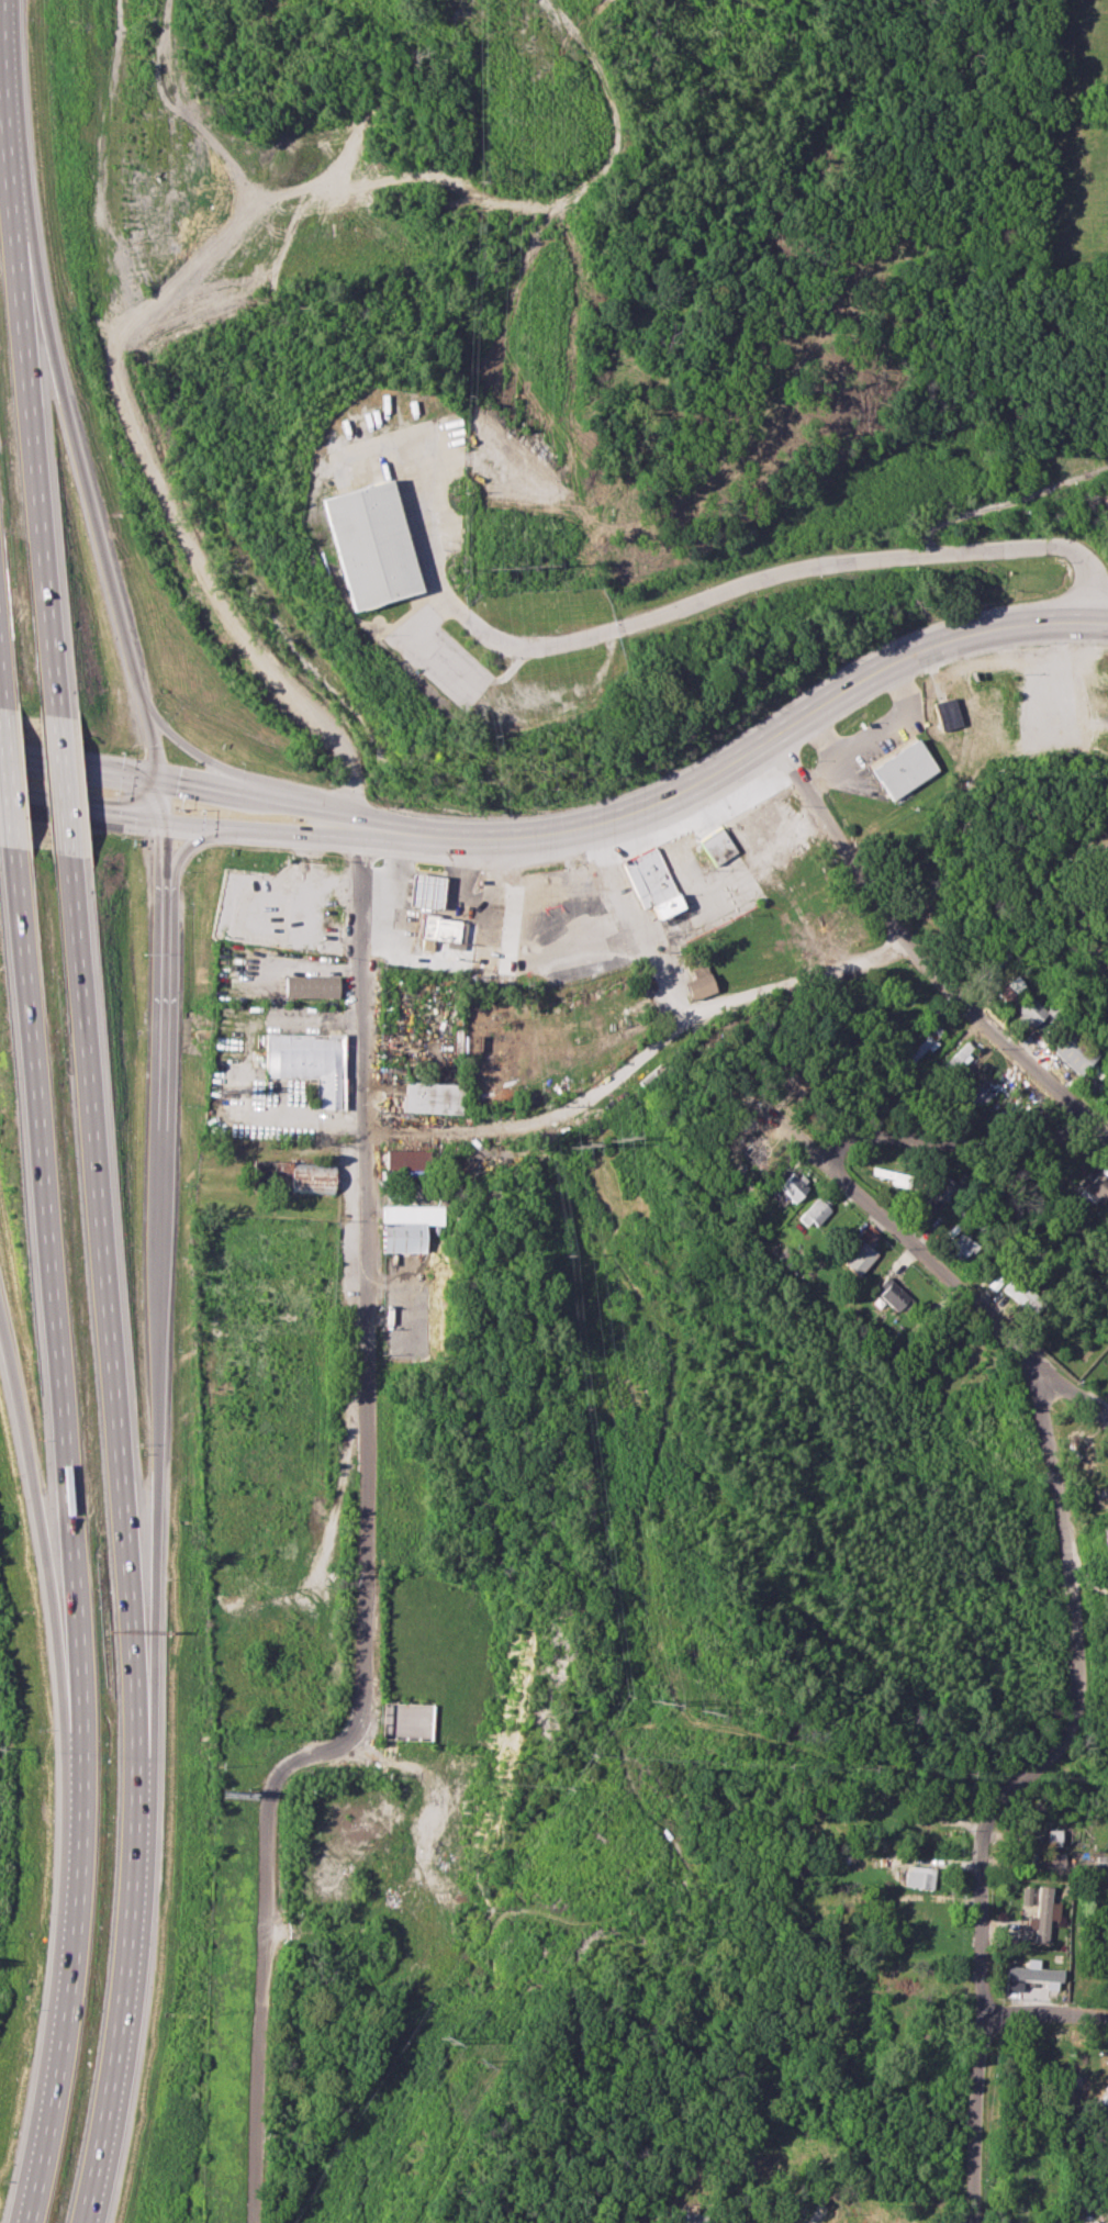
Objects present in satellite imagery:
road: (186, 107)
road: (183, 271)
road: (20, 359)
road: (1008, 501)
road: (97, 533)
building: (368, 543)
power tower: (537, 565)
power tower: (503, 566)
road: (702, 597)
parking lot: (436, 657)
road: (874, 735)
road: (14, 758)
road: (743, 759)
road: (817, 769)
building: (903, 769)
road: (80, 770)
road: (4, 783)
road: (61, 787)
road: (264, 792)
road: (179, 817)
road: (191, 842)
road: (166, 845)
building: (715, 845)
road: (1095, 881)
building: (650, 882)
building: (423, 890)
road: (637, 919)
building: (439, 931)
road: (1085, 934)
road: (916, 957)
building: (698, 982)
building: (309, 985)
building: (1011, 988)
road: (164, 999)
building: (1030, 1010)
building: (921, 1049)
building: (1074, 1049)
building: (961, 1054)
road: (637, 1058)
building: (306, 1062)
building: (433, 1097)
power tower: (620, 1136)
road: (949, 1140)
power tower: (581, 1144)
building: (752, 1148)
building: (405, 1159)
building: (291, 1175)
building: (902, 1178)
building: (793, 1185)
building: (1096, 1185)
building: (814, 1211)
building: (407, 1226)
building: (963, 1244)
building: (863, 1250)
road: (929, 1260)
road: (101, 1271)
road: (51, 1277)
road: (365, 1288)
building: (1019, 1293)
building: (893, 1294)
road: (1062, 1385)
road: (159, 1406)
road: (37, 1511)
building: (1106, 1538)
road: (1059, 1566)
power tower: (662, 1698)
power tower: (707, 1709)
road: (310, 1760)
building: (1052, 1835)
building: (1055, 1859)
building: (919, 1876)
road: (980, 1878)
building: (1025, 1895)
building: (1042, 1913)
road: (128, 1955)
road: (66, 1967)
building: (1036, 1974)
building: (1012, 1985)
road: (262, 2000)
road: (1042, 2014)
power tower: (444, 2043)
power tower: (480, 2062)
road: (972, 2116)

